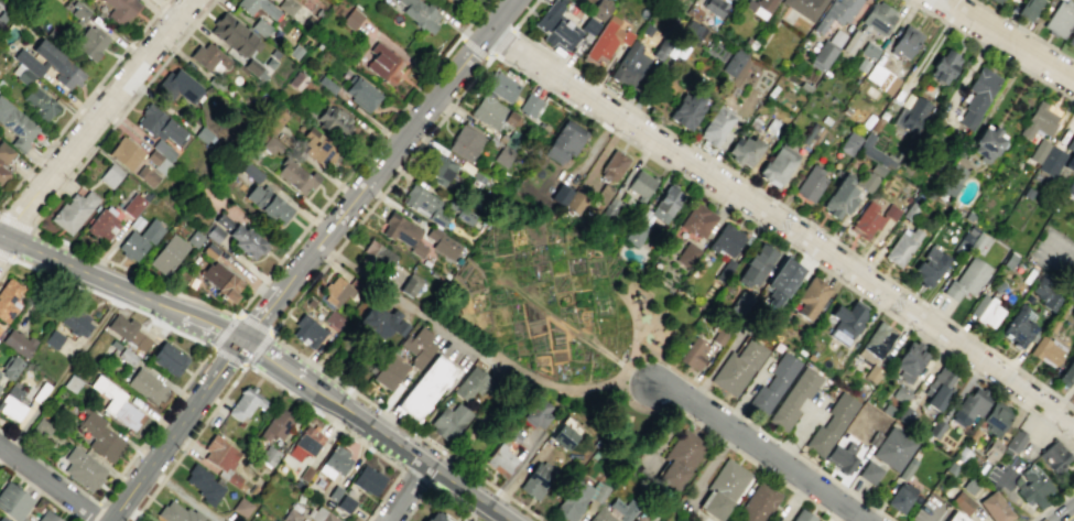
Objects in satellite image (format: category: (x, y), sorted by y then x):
building: (454, 0)
building: (1062, 0)
building: (996, 1)
building: (763, 6)
building: (257, 7)
building: (714, 7)
building: (804, 7)
building: (600, 9)
building: (1028, 9)
building: (119, 10)
road: (946, 10)
building: (837, 12)
building: (419, 13)
building: (1060, 18)
building: (351, 19)
building: (878, 19)
building: (588, 25)
building: (260, 26)
building: (556, 26)
road: (1023, 30)
building: (687, 31)
building: (234, 35)
road: (460, 37)
building: (606, 39)
road: (1009, 39)
building: (1071, 39)
road: (501, 41)
building: (90, 42)
building: (904, 42)
road: (474, 48)
road: (990, 50)
building: (823, 54)
building: (208, 56)
road: (486, 58)
building: (733, 62)
building: (383, 63)
building: (58, 65)
building: (629, 65)
building: (943, 66)
building: (26, 67)
building: (880, 78)
building: (296, 80)
building: (326, 84)
road: (540, 84)
building: (178, 86)
building: (501, 86)
building: (359, 93)
building: (977, 96)
road: (82, 101)
building: (40, 102)
building: (529, 105)
building: (687, 109)
building: (490, 112)
road: (120, 115)
building: (911, 115)
road: (94, 120)
building: (334, 120)
building: (1038, 121)
building: (15, 124)
building: (715, 126)
road: (400, 140)
building: (564, 141)
building: (848, 142)
building: (465, 143)
building: (986, 143)
building: (271, 144)
building: (316, 145)
building: (1038, 150)
building: (744, 151)
building: (875, 152)
building: (124, 153)
building: (1070, 154)
building: (502, 155)
building: (3, 160)
building: (1051, 161)
building: (777, 165)
building: (612, 166)
building: (441, 170)
building: (109, 175)
building: (145, 175)
building: (296, 176)
building: (953, 180)
building: (639, 184)
building: (811, 184)
building: (1070, 186)
building: (839, 197)
building: (567, 198)
road: (773, 199)
building: (421, 202)
building: (265, 203)
building: (664, 204)
building: (132, 205)
building: (73, 211)
building: (871, 219)
building: (697, 220)
building: (105, 221)
road: (14, 222)
road: (782, 225)
building: (402, 232)
building: (634, 232)
building: (214, 234)
building: (240, 237)
building: (725, 239)
building: (139, 240)
building: (969, 241)
building: (443, 243)
road: (290, 246)
building: (901, 246)
road: (492, 250)
building: (167, 254)
building: (686, 254)
road: (6, 256)
building: (378, 256)
road: (1060, 258)
road: (6, 265)
building: (755, 265)
building: (929, 267)
road: (79, 271)
building: (966, 279)
building: (220, 281)
building: (779, 284)
building: (410, 285)
building: (335, 292)
building: (1044, 292)
road: (399, 297)
building: (8, 299)
building: (810, 299)
road: (112, 300)
road: (264, 311)
building: (986, 311)
street lamp: (243, 312)
road: (554, 317)
building: (333, 319)
building: (75, 321)
building: (382, 322)
road: (200, 323)
building: (1017, 326)
building: (0, 332)
building: (127, 332)
building: (307, 332)
park: (560, 332)
road: (268, 334)
building: (878, 336)
building: (53, 339)
traffic signals: (241, 340)
building: (18, 341)
building: (113, 345)
road: (211, 347)
building: (419, 347)
road: (632, 348)
building: (1045, 350)
building: (128, 355)
building: (694, 356)
building: (912, 357)
building: (167, 358)
road: (239, 361)
street lamp: (245, 362)
road: (621, 363)
building: (10, 366)
building: (737, 367)
road: (289, 371)
building: (390, 371)
building: (1066, 373)
road: (61, 375)
road: (625, 375)
road: (641, 377)
building: (774, 381)
building: (70, 382)
building: (470, 383)
road: (549, 383)
building: (941, 383)
building: (147, 386)
building: (425, 388)
building: (40, 392)
building: (794, 397)
parking lot: (1072, 399)
road: (1067, 402)
building: (11, 403)
building: (116, 403)
building: (245, 403)
building: (973, 403)
building: (997, 412)
building: (536, 414)
road: (490, 416)
building: (448, 421)
building: (832, 421)
building: (276, 424)
building: (39, 428)
road: (174, 430)
road: (759, 430)
road: (347, 433)
building: (98, 434)
building: (562, 436)
building: (1017, 439)
road: (188, 443)
building: (305, 443)
road: (726, 444)
building: (991, 445)
building: (896, 446)
road: (760, 451)
building: (268, 455)
building: (1053, 456)
building: (842, 457)
building: (220, 458)
building: (500, 460)
road: (1073, 460)
building: (334, 462)
building: (677, 462)
road: (421, 463)
road: (1066, 466)
building: (908, 467)
building: (83, 469)
building: (869, 470)
road: (437, 471)
building: (305, 474)
road: (118, 475)
road: (413, 478)
building: (368, 479)
building: (535, 479)
road: (50, 482)
building: (203, 484)
building: (723, 489)
road: (40, 491)
road: (499, 491)
building: (1034, 491)
building: (334, 492)
road: (434, 492)
road: (406, 493)
building: (900, 497)
building: (576, 498)
road: (1013, 498)
road: (1057, 499)
building: (12, 501)
building: (962, 501)
building: (345, 503)
building: (758, 503)
building: (241, 507)
building: (994, 507)
building: (622, 508)
road: (91, 512)
road: (933, 512)
building: (176, 513)
building: (290, 515)
building: (322, 515)
building: (600, 515)
building: (803, 515)
road: (1037, 515)
building: (46, 517)
building: (434, 517)
building: (955, 517)
road: (1068, 517)
building: (354, 518)
building: (2, 519)
building: (633, 520)
building: (733, 520)
road: (1030, 520)

